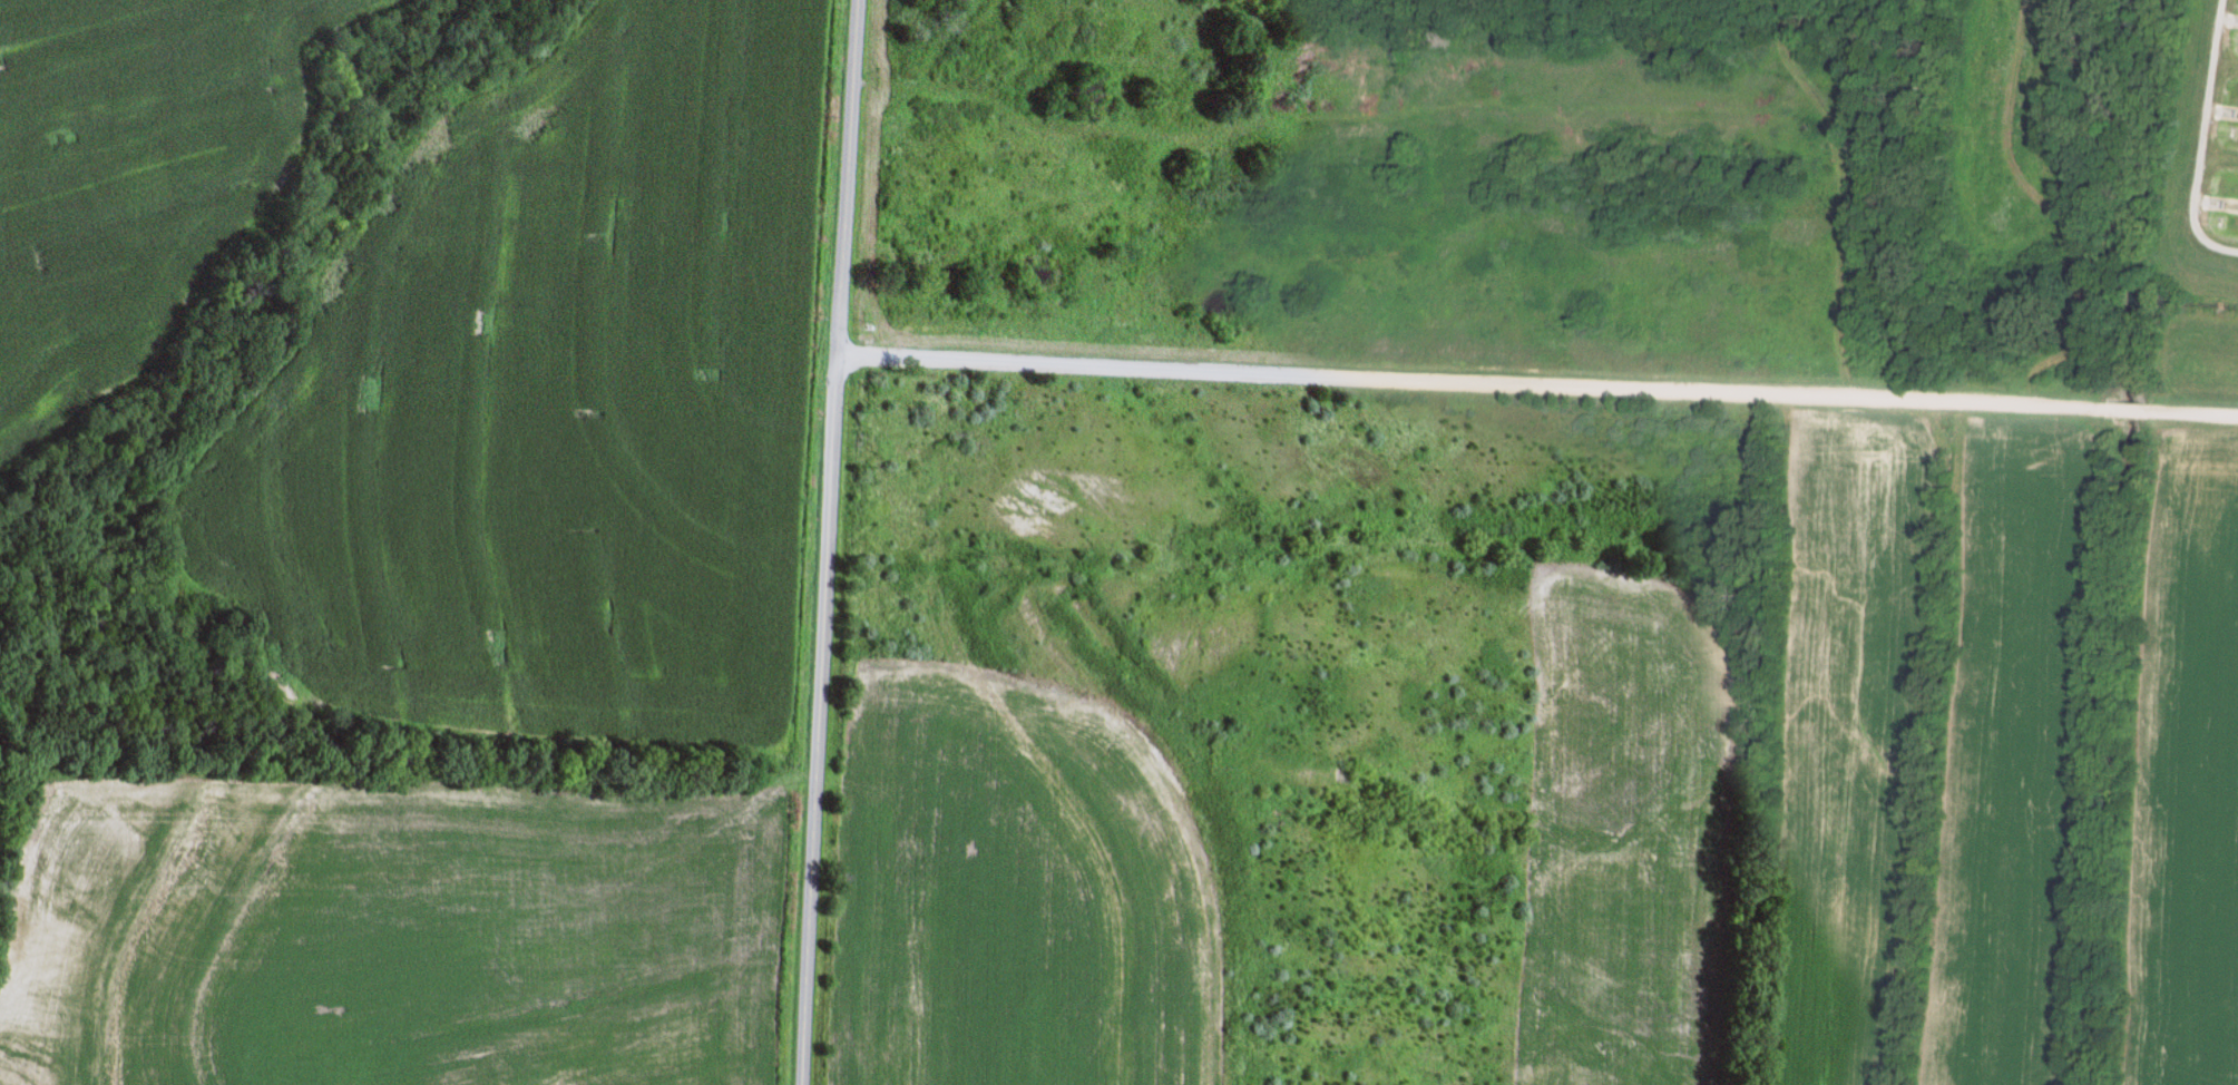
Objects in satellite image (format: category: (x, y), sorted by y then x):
road: (2203, 140)
road: (1541, 381)
road: (834, 541)

